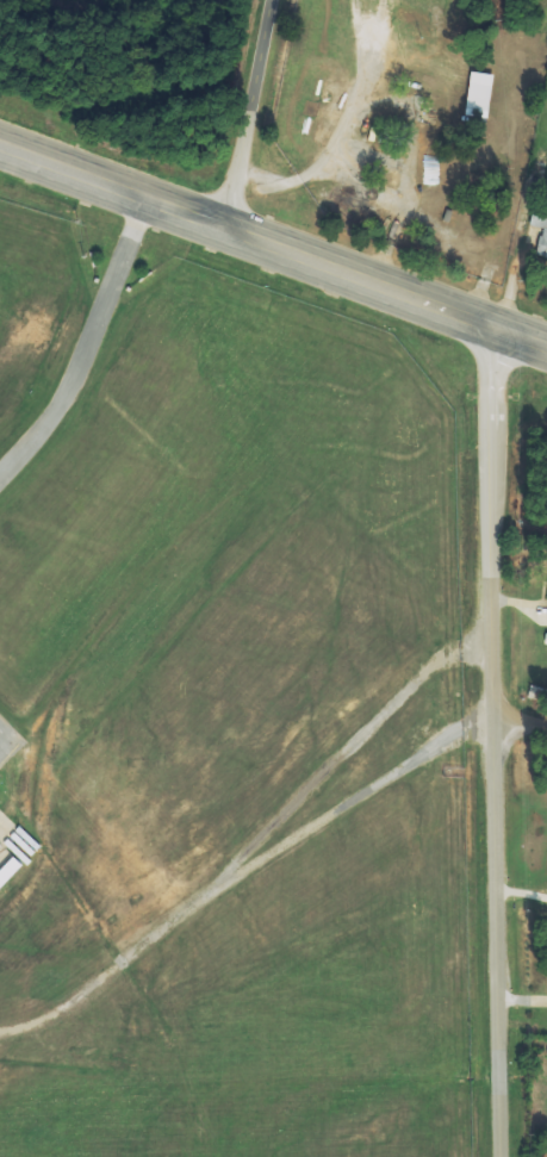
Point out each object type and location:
building: (479, 94)
road: (249, 114)
road: (216, 224)
building: (543, 242)
road: (489, 325)
road: (87, 346)
road: (520, 722)
airport: (223, 723)
road: (7, 740)
road: (493, 741)
airport apron: (5, 858)
building: (10, 872)
road: (241, 872)

